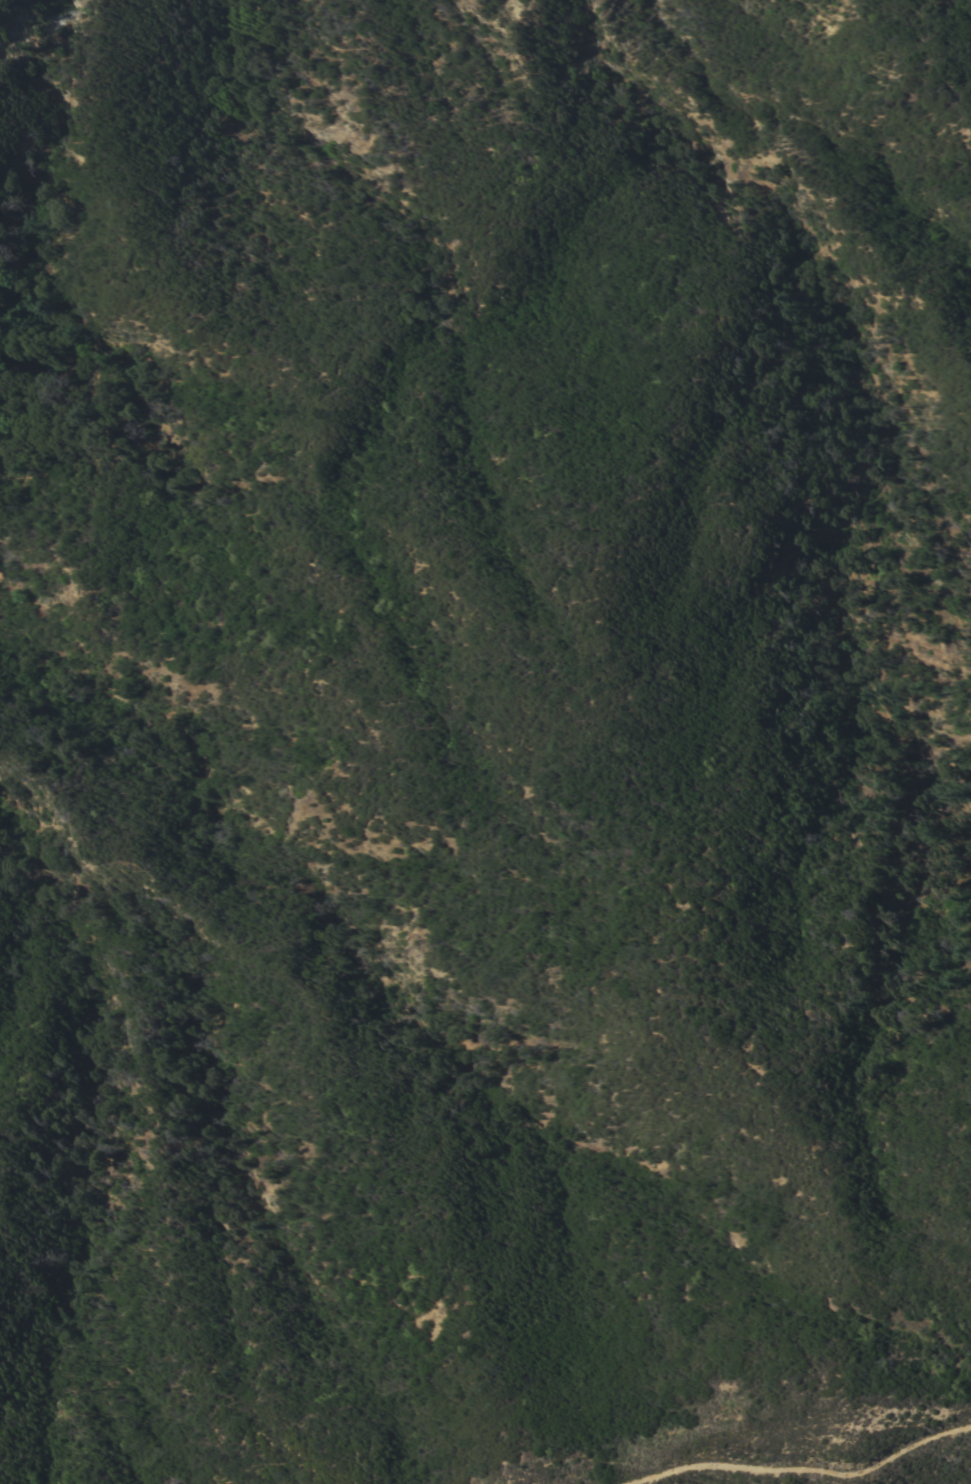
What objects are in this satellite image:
road: (818, 1473)

